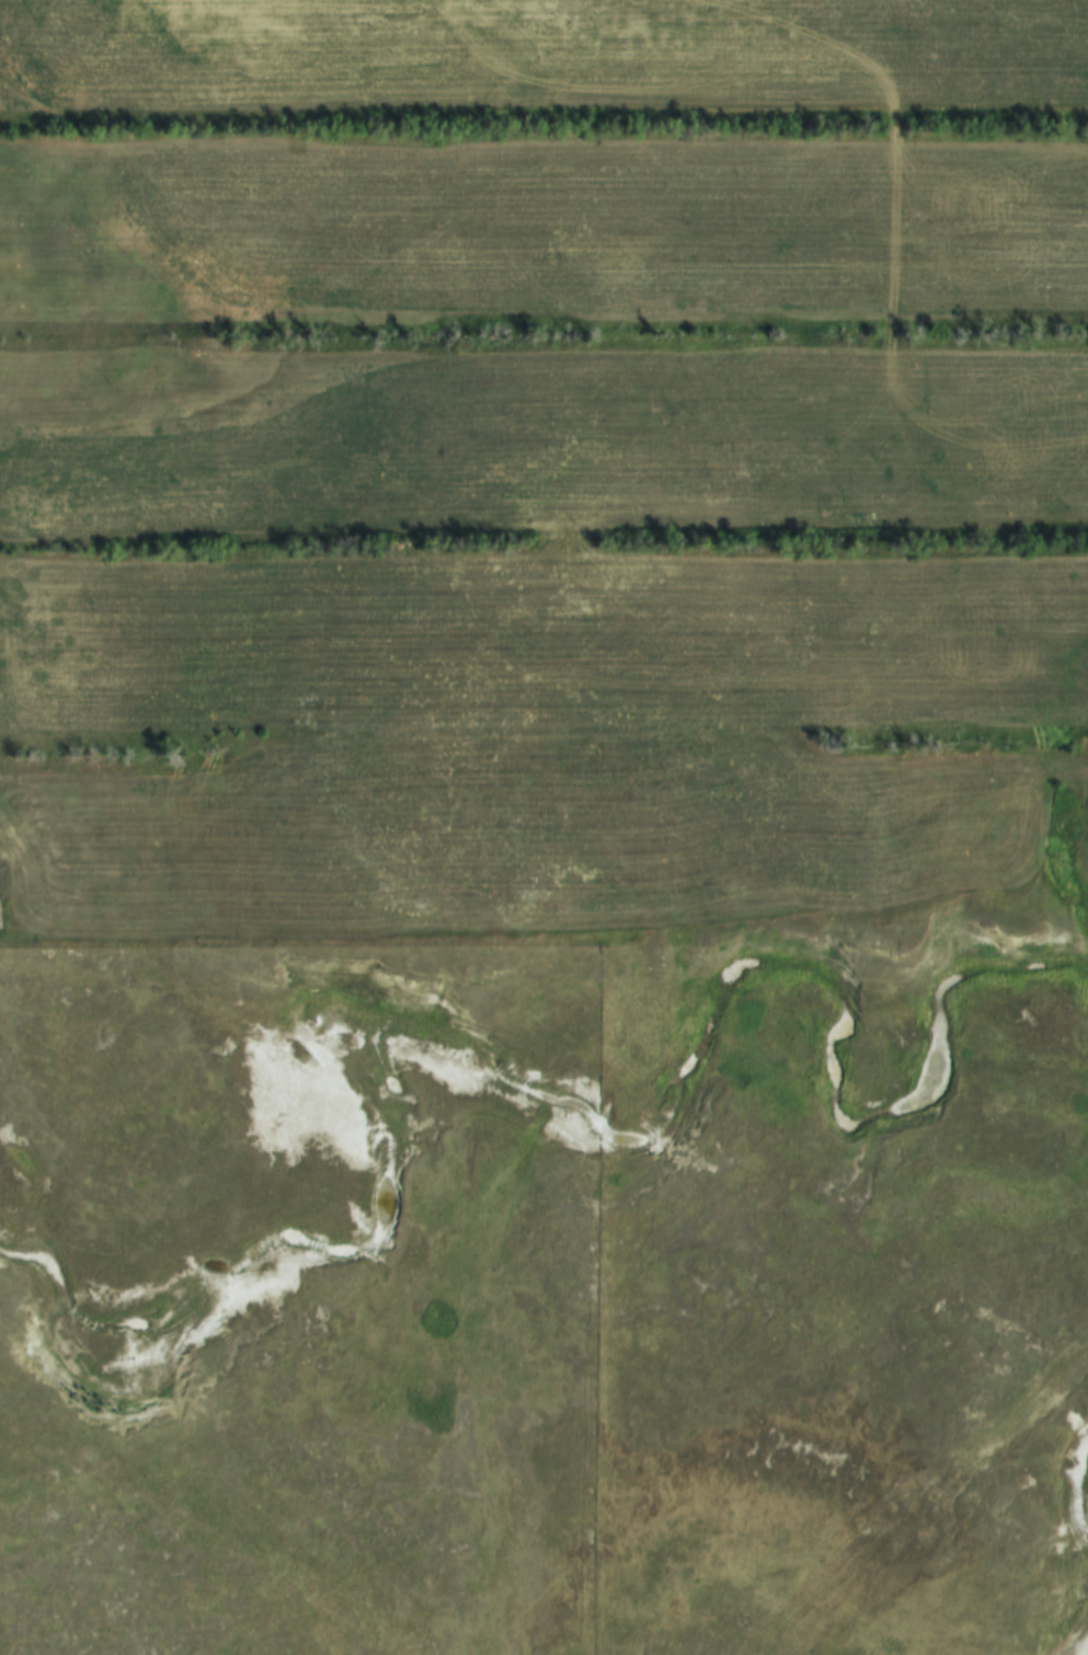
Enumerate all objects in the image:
road: (1, 777)

